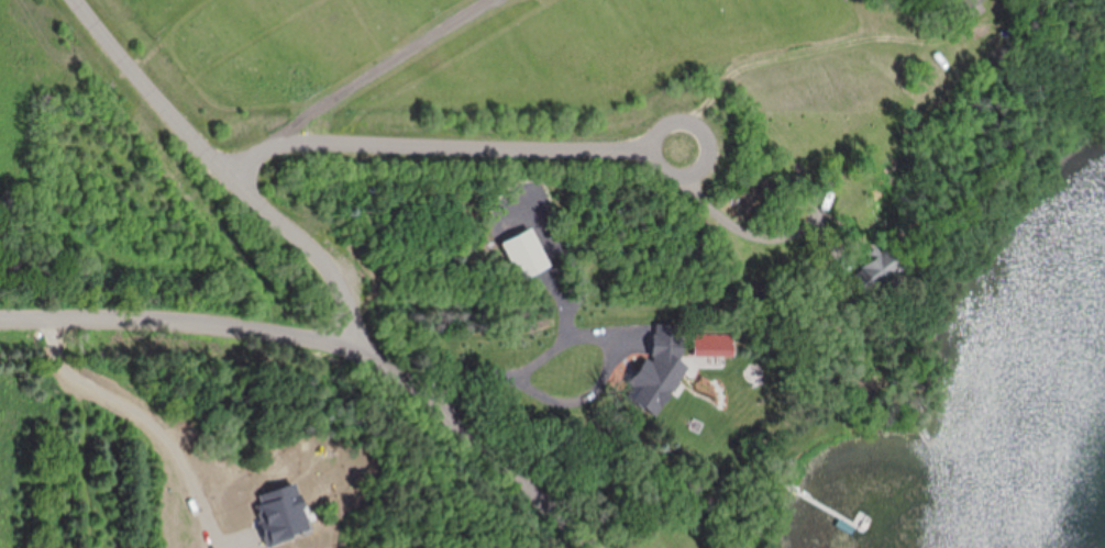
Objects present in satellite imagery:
road: (372, 71)
road: (709, 139)
road: (439, 149)
road: (226, 174)
building: (763, 187)
road: (730, 223)
building: (876, 268)
road: (334, 343)
road: (528, 354)
building: (552, 367)

